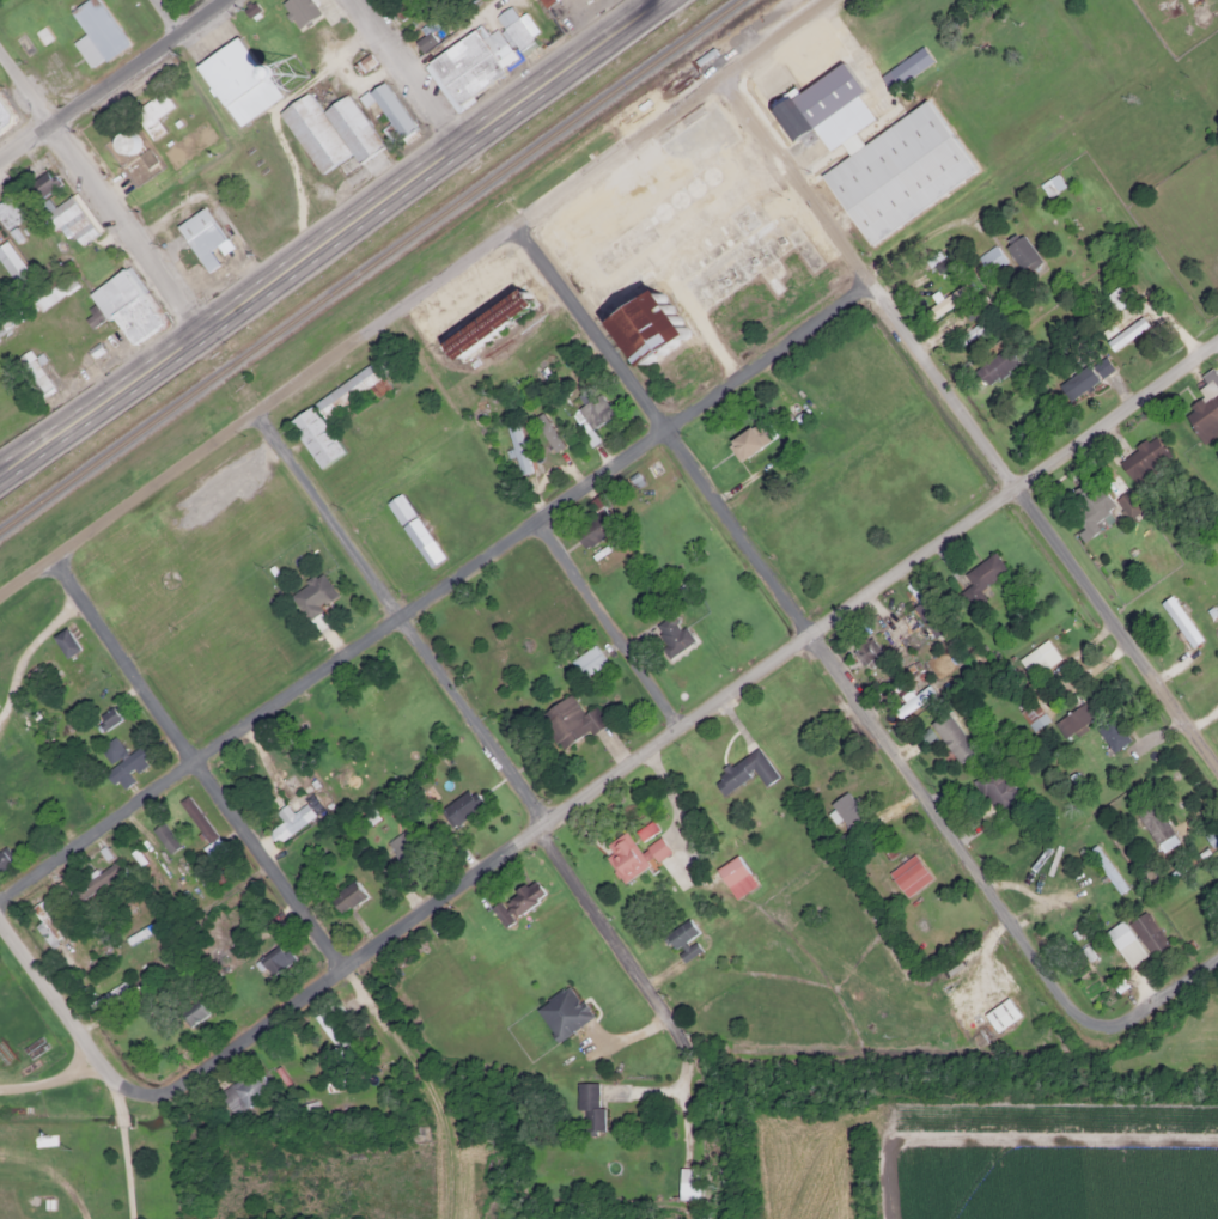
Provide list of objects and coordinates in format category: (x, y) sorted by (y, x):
building: (547, 2)
road: (166, 14)
building: (514, 30)
building: (95, 33)
building: (424, 42)
building: (470, 65)
road: (409, 72)
road: (109, 77)
building: (236, 81)
building: (389, 110)
building: (152, 114)
building: (5, 116)
building: (328, 130)
building: (124, 142)
building: (876, 147)
building: (39, 185)
building: (1050, 185)
road: (99, 188)
building: (684, 193)
building: (8, 212)
building: (69, 220)
building: (202, 238)
road: (328, 238)
building: (1019, 252)
building: (989, 260)
building: (12, 264)
railway: (369, 264)
road: (410, 299)
building: (1114, 299)
building: (465, 304)
building: (127, 305)
building: (488, 325)
building: (647, 330)
building: (970, 331)
building: (34, 374)
building: (994, 374)
building: (1084, 376)
building: (328, 402)
building: (1204, 409)
building: (590, 413)
road: (969, 414)
building: (748, 441)
building: (517, 447)
building: (1143, 459)
building: (1095, 501)
building: (413, 531)
building: (589, 532)
road: (486, 554)
building: (980, 577)
building: (311, 596)
road: (611, 617)
building: (1180, 620)
road: (809, 630)
building: (670, 633)
building: (65, 641)
building: (866, 648)
building: (931, 656)
building: (587, 660)
building: (1031, 714)
building: (1072, 719)
building: (568, 720)
road: (678, 721)
building: (335, 731)
building: (1112, 733)
building: (951, 735)
road: (487, 736)
building: (122, 760)
building: (743, 769)
building: (997, 787)
building: (458, 805)
building: (290, 817)
building: (199, 822)
building: (1156, 824)
building: (164, 836)
road: (251, 837)
building: (631, 854)
building: (4, 859)
building: (1106, 867)
building: (223, 874)
building: (735, 876)
building: (96, 878)
building: (346, 895)
building: (523, 896)
building: (499, 914)
building: (139, 933)
building: (1134, 937)
building: (681, 938)
building: (275, 958)
building: (110, 994)
road: (1164, 995)
road: (66, 1006)
building: (190, 1010)
building: (561, 1012)
building: (1000, 1013)
building: (330, 1028)
road: (55, 1086)
building: (243, 1090)
building: (587, 1104)
building: (303, 1107)
building: (688, 1183)

